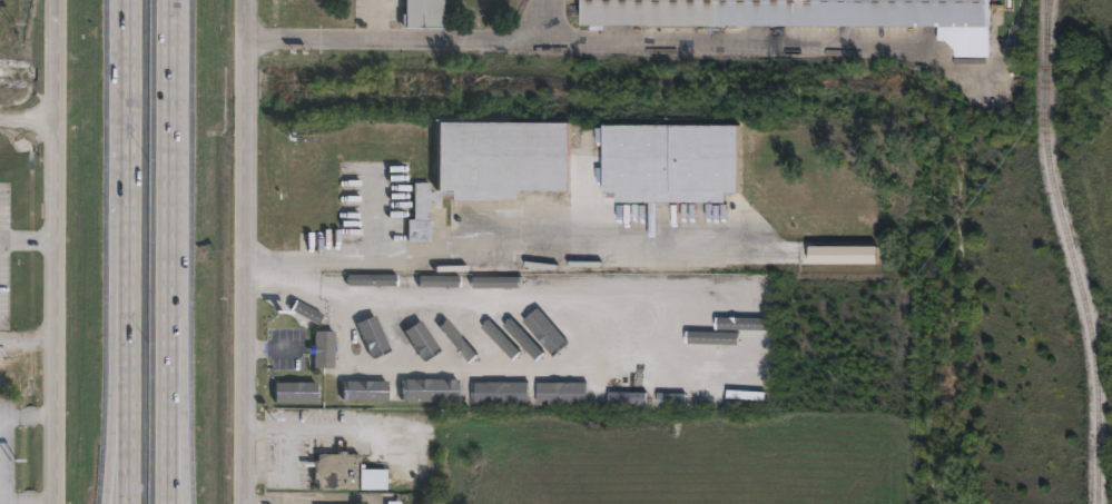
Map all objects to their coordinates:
railway: (1047, 8)
building: (788, 12)
building: (425, 13)
road: (541, 19)
road: (327, 38)
road: (461, 38)
road: (734, 47)
road: (128, 110)
road: (30, 121)
building: (502, 157)
building: (672, 161)
building: (422, 215)
road: (508, 238)
road: (29, 241)
road: (58, 251)
road: (173, 251)
road: (243, 251)
railway: (1071, 251)
building: (370, 279)
building: (425, 280)
building: (510, 280)
building: (573, 280)
building: (629, 281)
building: (735, 286)
building: (673, 289)
building: (737, 300)
road: (626, 309)
building: (741, 314)
building: (403, 329)
building: (748, 329)
building: (680, 333)
building: (486, 337)
building: (537, 338)
road: (29, 340)
building: (565, 342)
road: (268, 347)
building: (739, 348)
building: (325, 349)
road: (115, 362)
road: (129, 362)
building: (679, 370)
building: (741, 376)
road: (183, 388)
building: (298, 391)
building: (488, 393)
building: (370, 394)
building: (569, 394)
building: (631, 397)
building: (673, 398)
road: (28, 415)
road: (355, 426)
road: (287, 449)
building: (339, 472)
road: (28, 501)
building: (395, 502)

